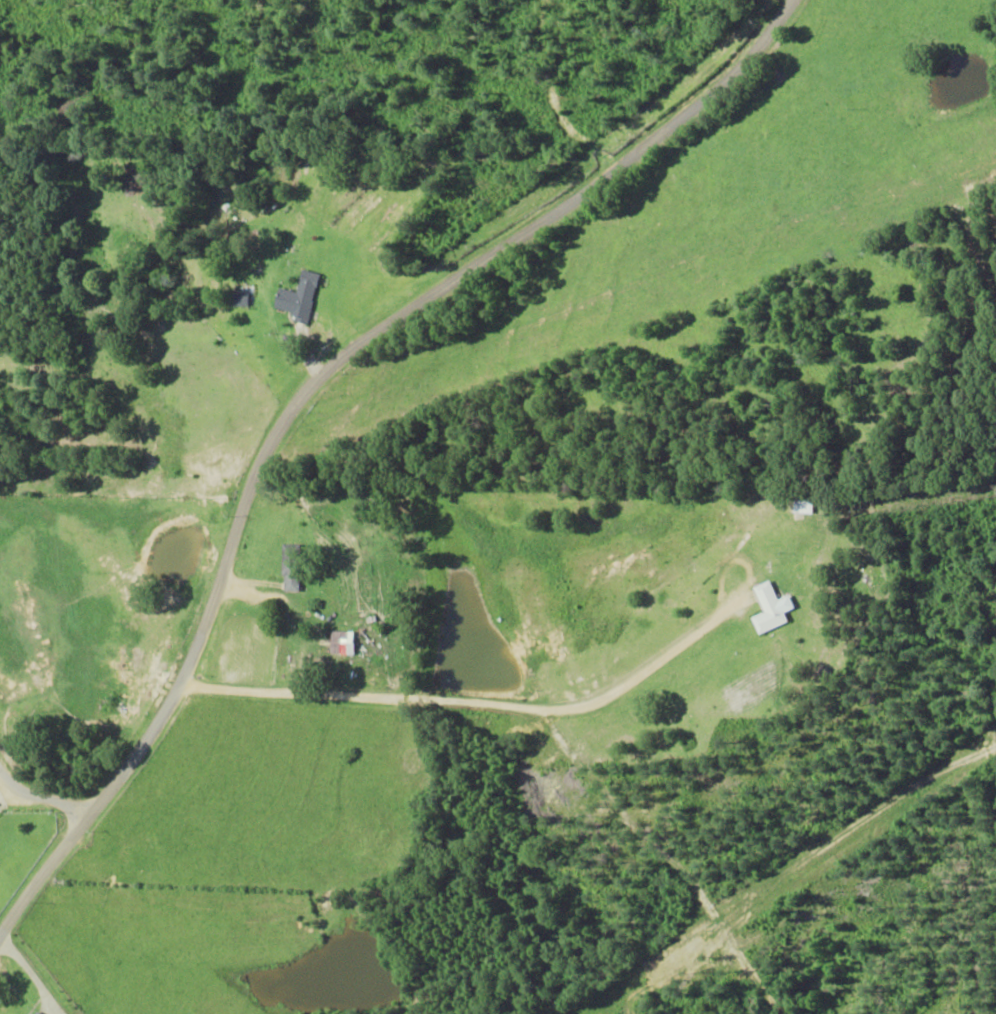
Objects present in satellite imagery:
building: (299, 296)
building: (239, 299)
road: (348, 437)
building: (290, 567)
building: (771, 608)
road: (452, 640)
building: (339, 643)
road: (69, 724)
building: (34, 1012)

